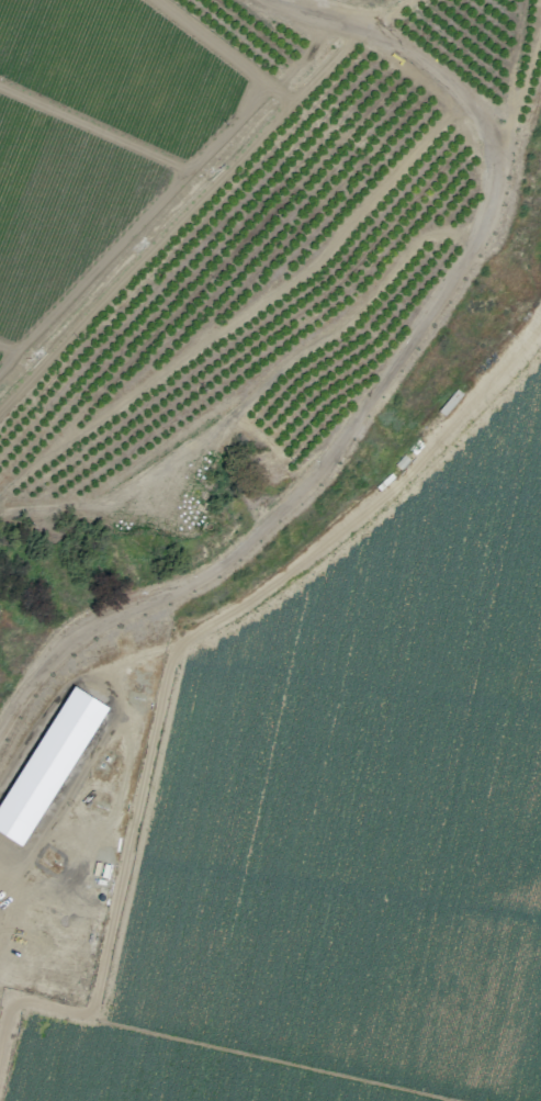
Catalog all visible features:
road: (301, 61)
crop: (121, 70)
road: (283, 93)
road: (93, 127)
road: (179, 177)
crop: (59, 205)
road: (180, 218)
road: (246, 313)
road: (7, 348)
crop: (0, 353)
road: (384, 389)
road: (253, 393)
road: (179, 647)
building: (67, 733)
crop: (345, 822)
road: (1, 1036)

